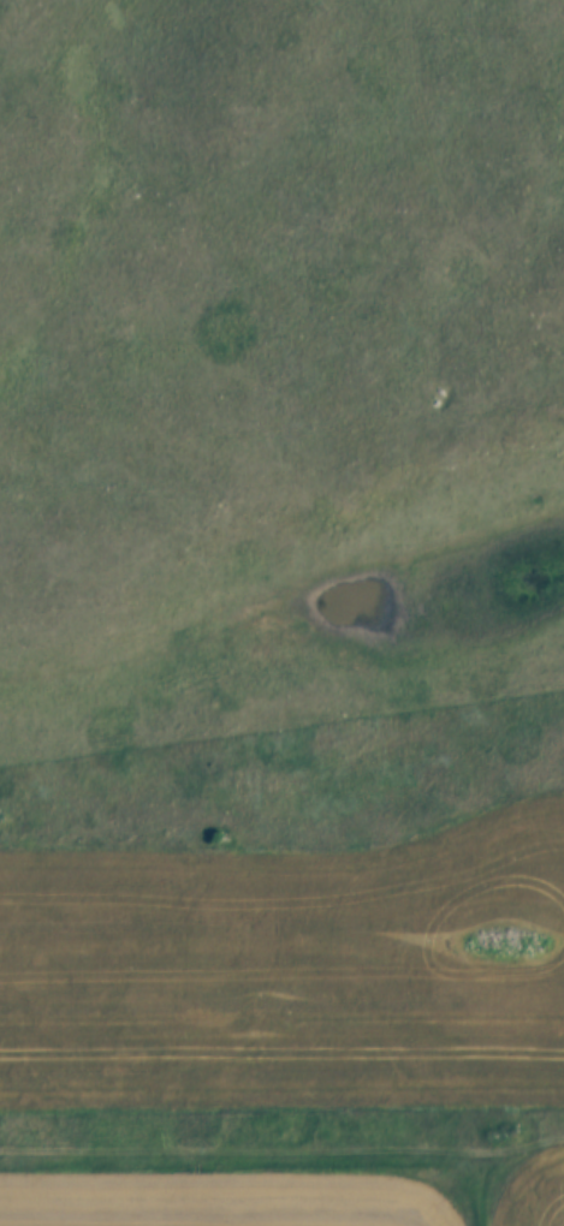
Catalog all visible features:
road: (281, 1145)

